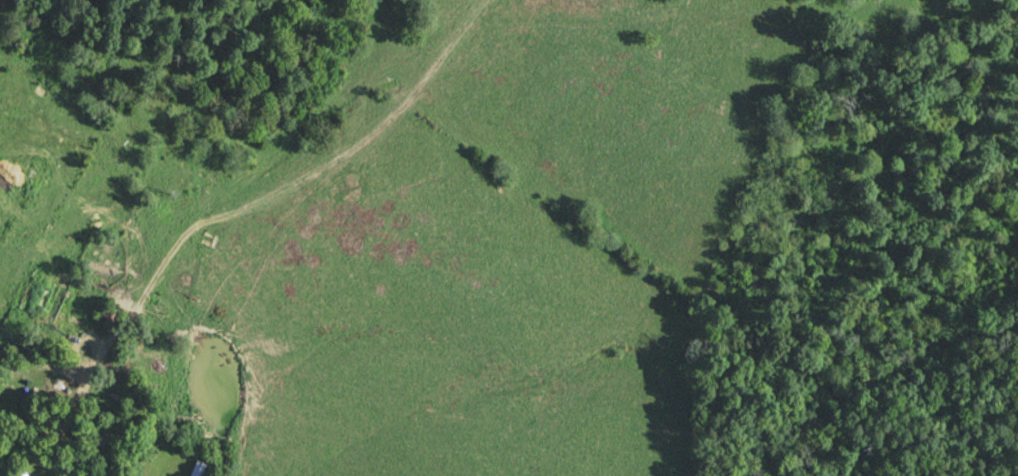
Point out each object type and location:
road: (34, 458)
building: (201, 468)

